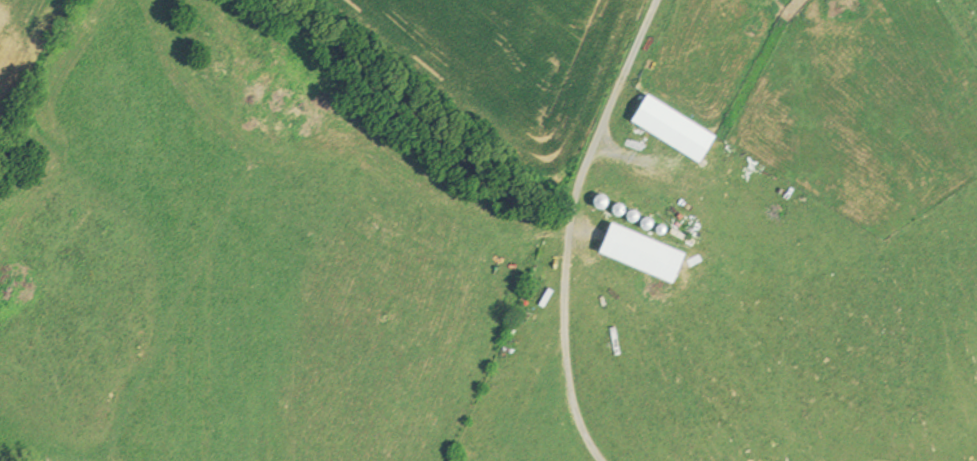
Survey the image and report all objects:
building: (665, 128)
road: (570, 238)
building: (632, 253)

